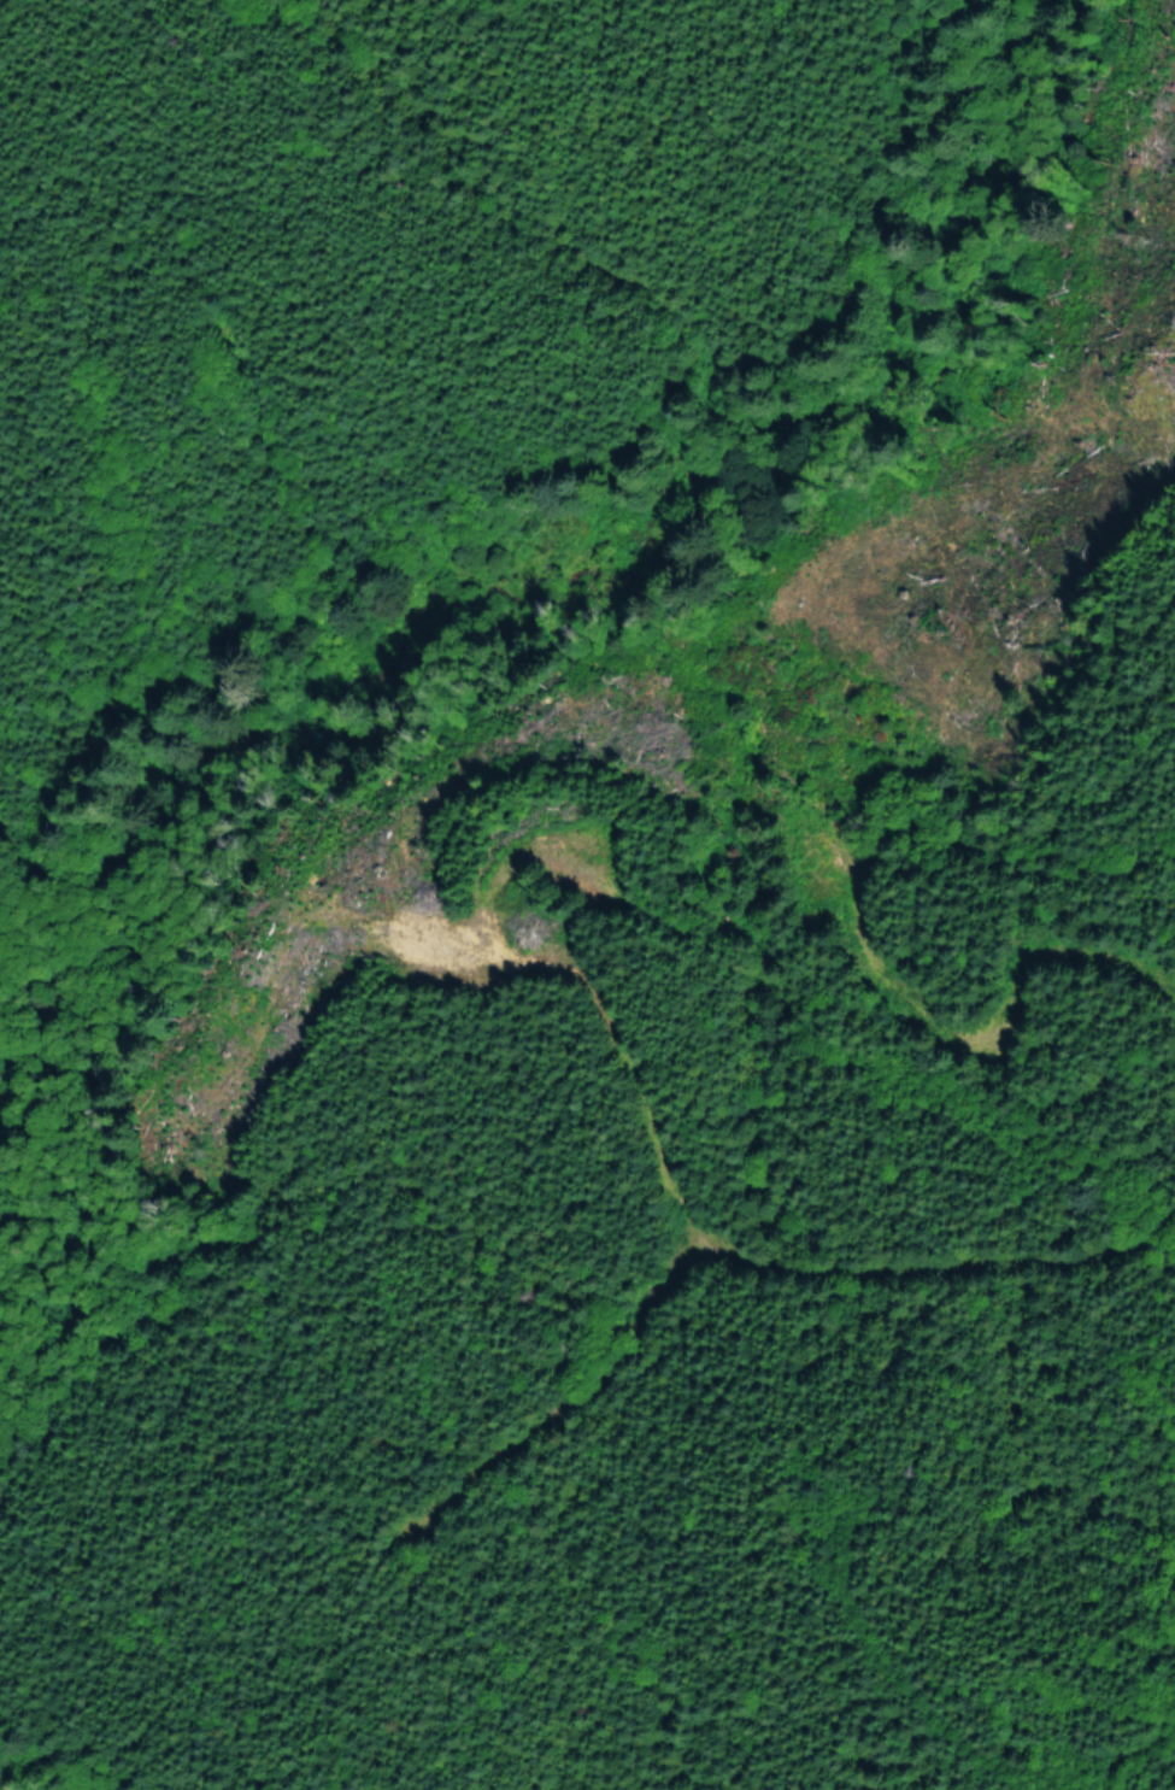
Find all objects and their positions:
road: (1157, 1751)

